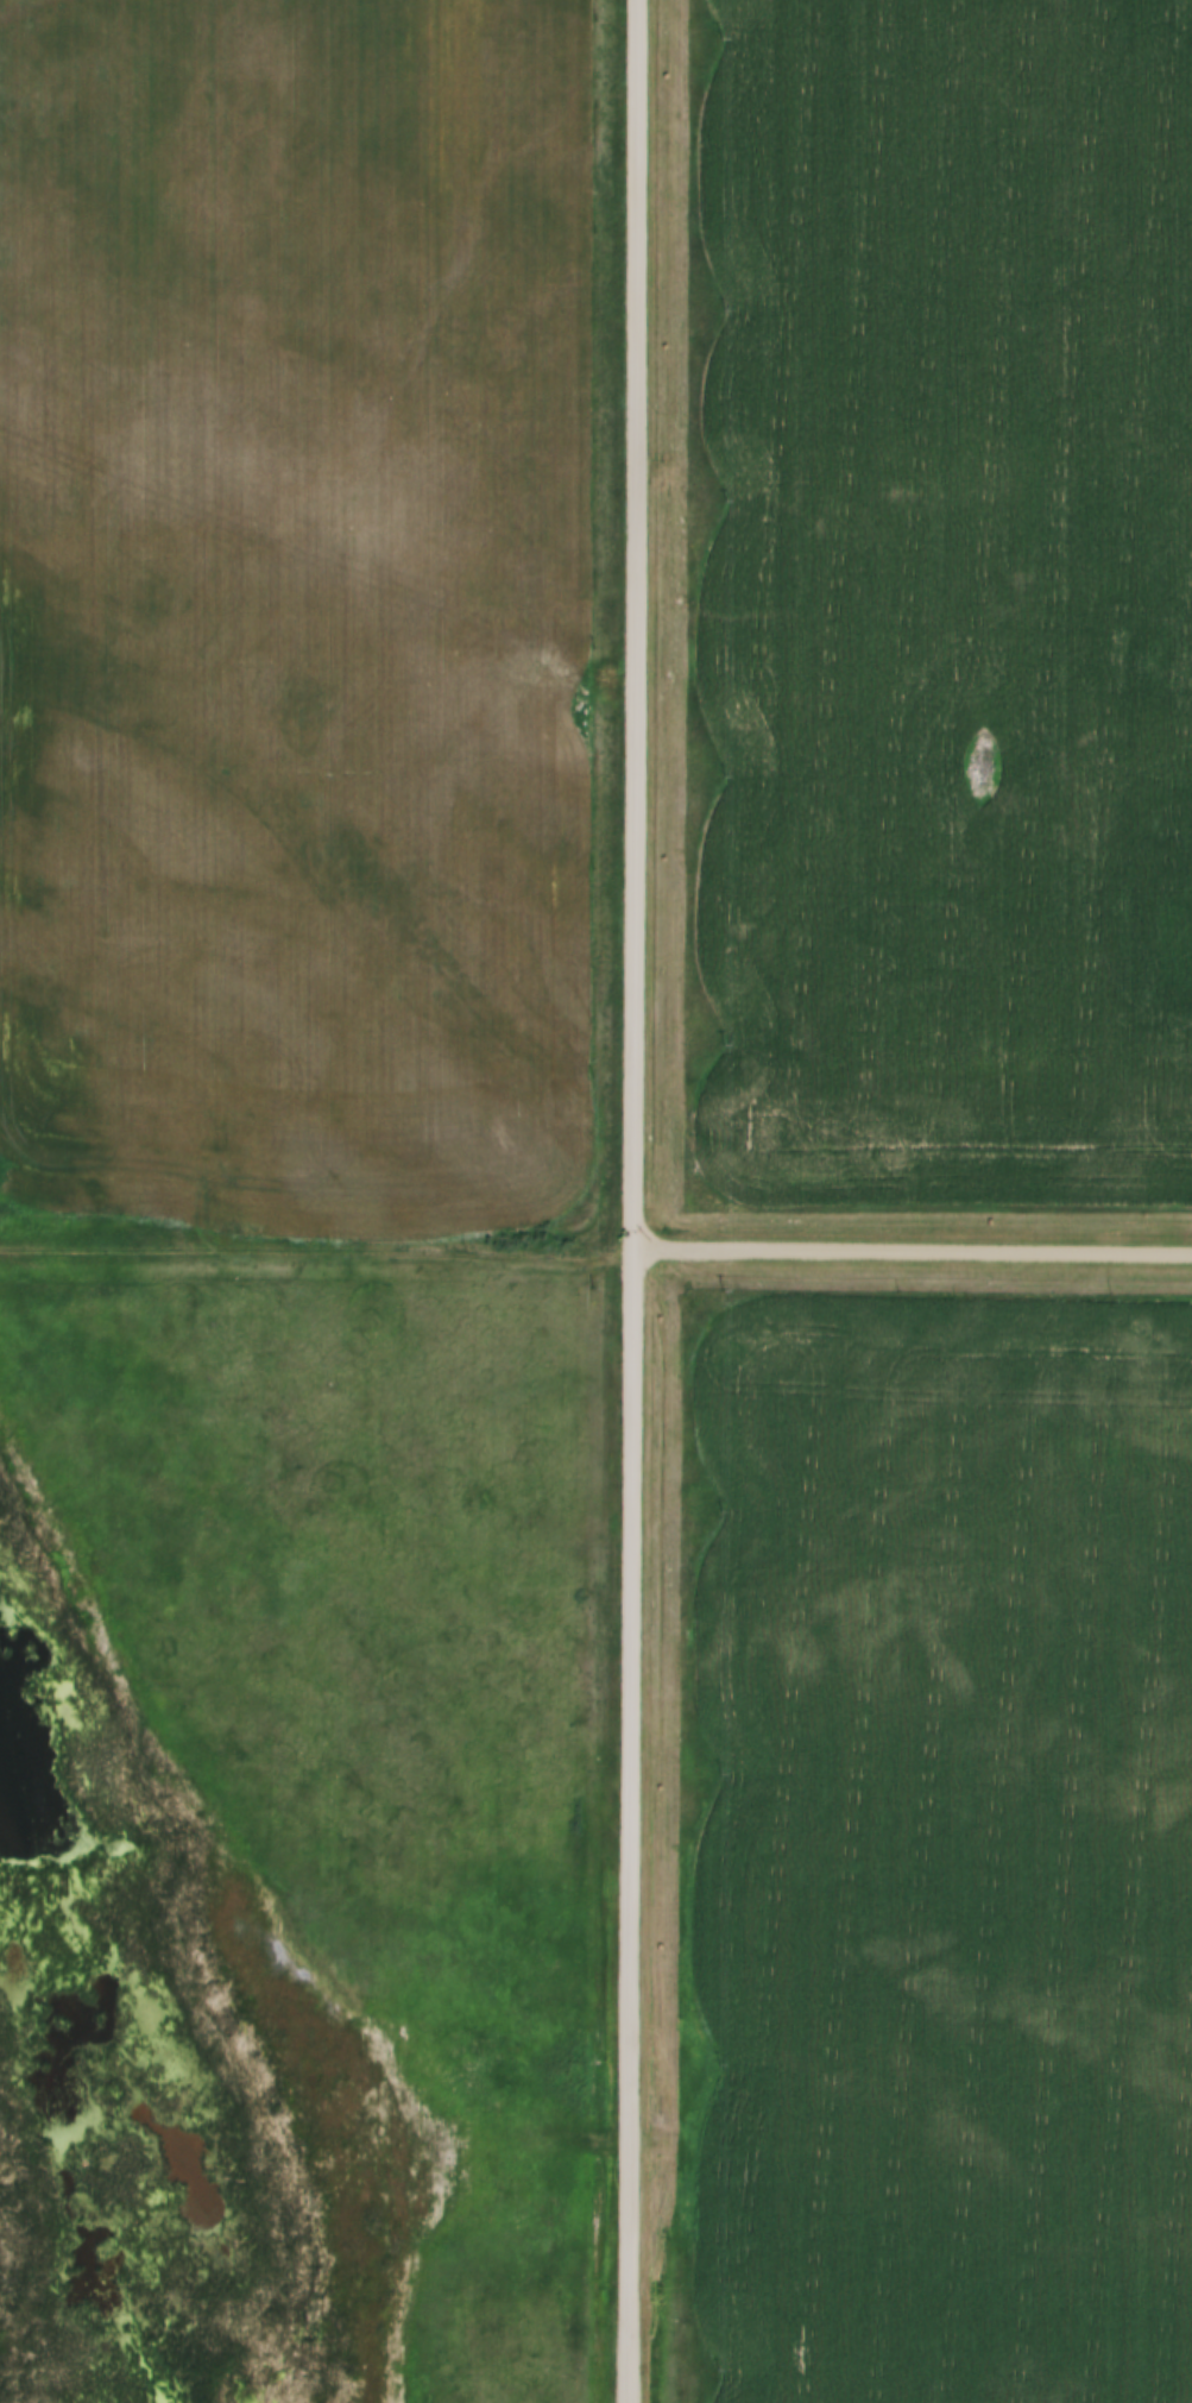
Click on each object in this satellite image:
road: (635, 1201)
road: (913, 1250)
road: (317, 1252)

